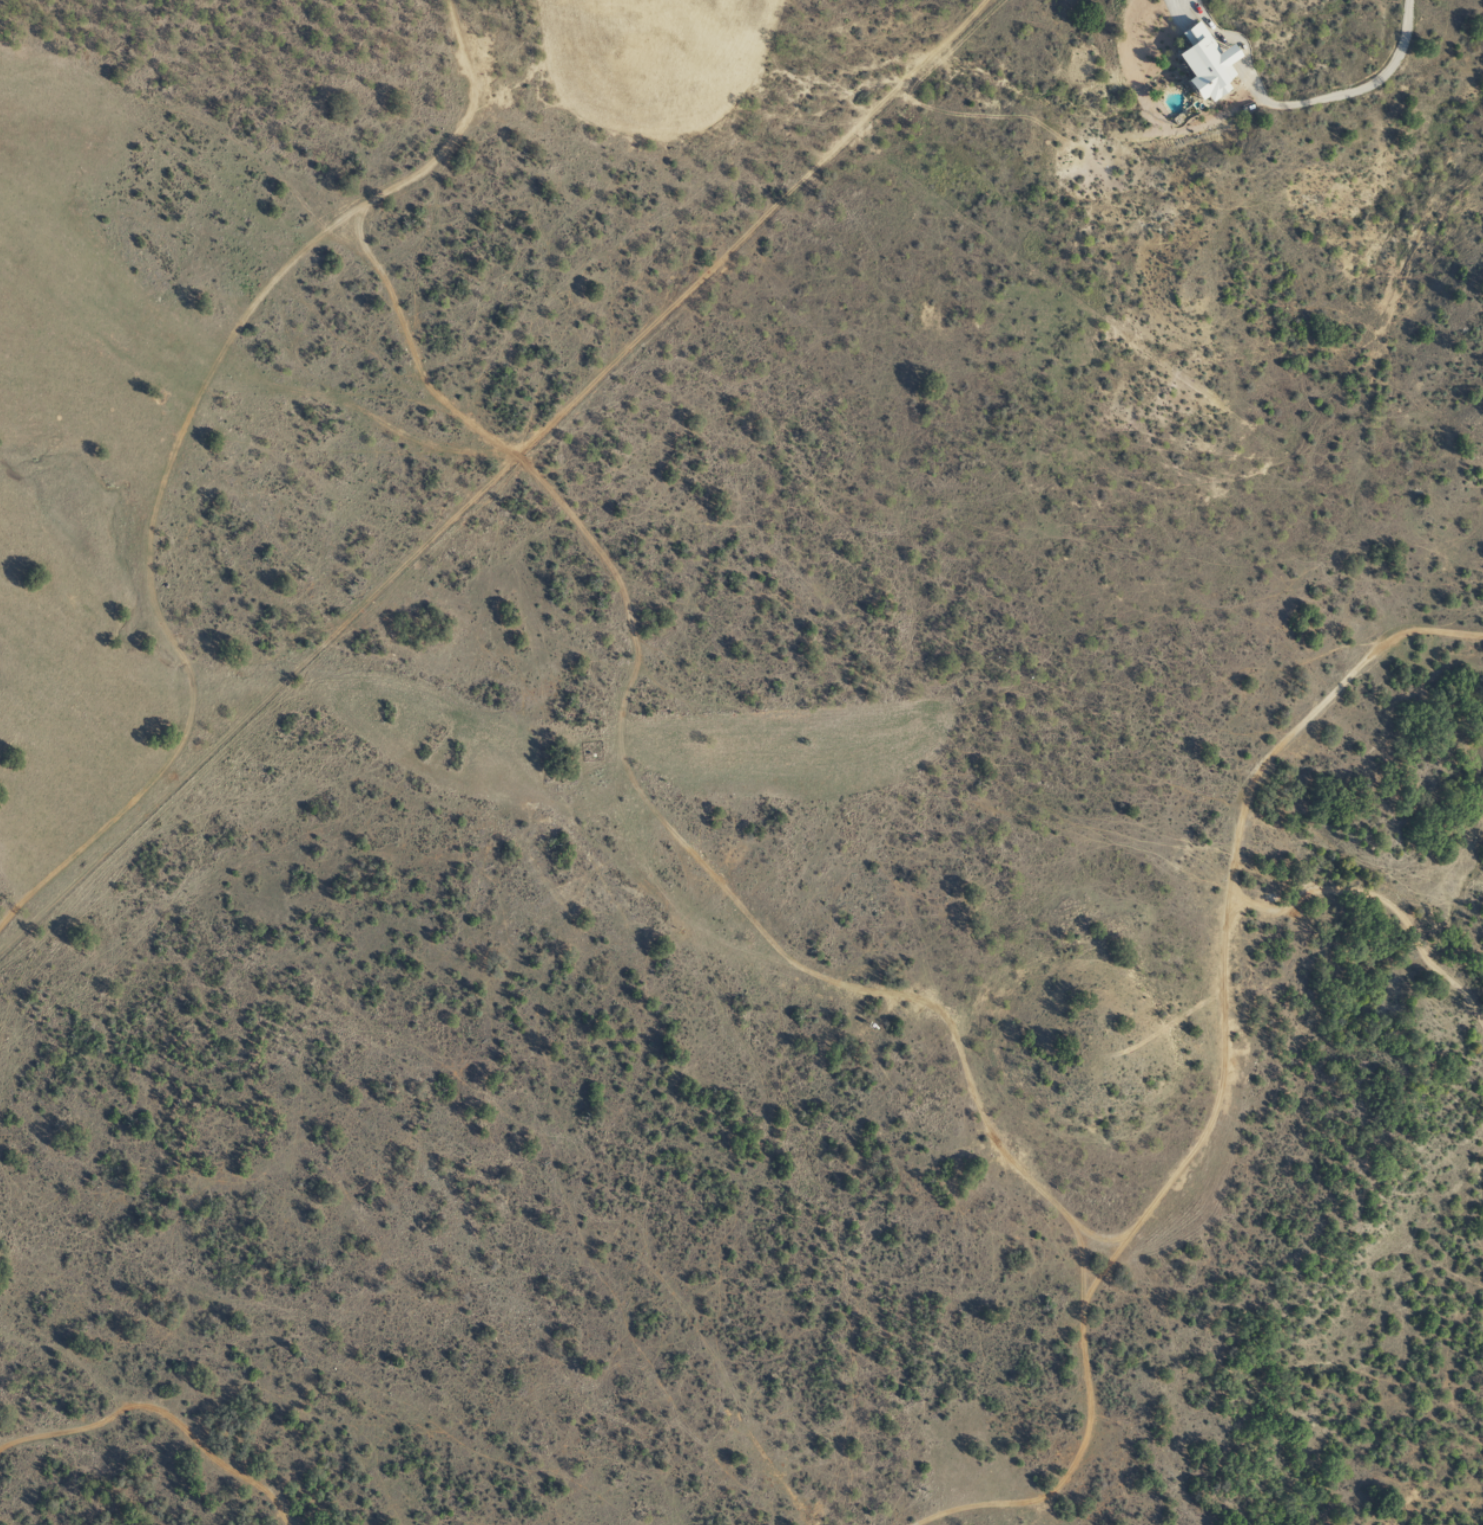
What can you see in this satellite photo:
building: (1199, 60)
road: (1386, 344)
road: (187, 446)
road: (1442, 653)
road: (1225, 927)
road: (124, 1438)

